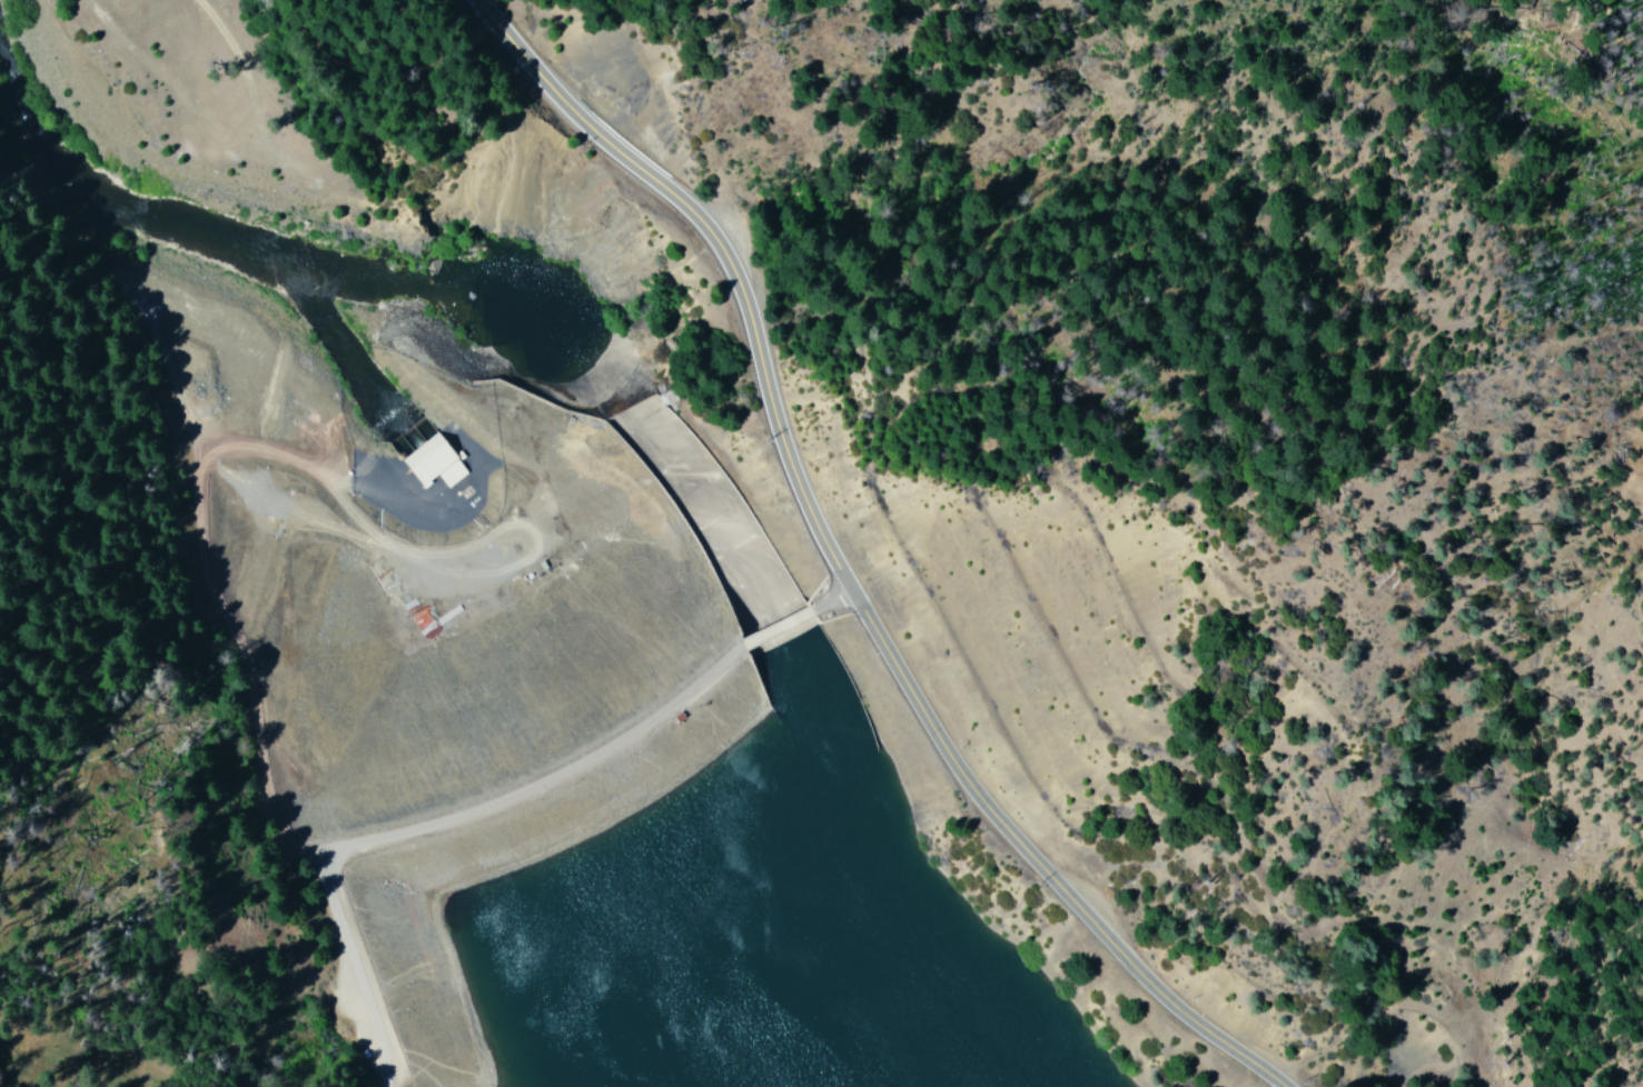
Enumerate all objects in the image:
river: (14, 56)
river: (225, 228)
river: (481, 296)
river: (522, 300)
river: (567, 315)
river: (603, 333)
building: (436, 462)
river: (705, 468)
road: (196, 509)
road: (843, 574)
road: (845, 599)
river: (792, 631)
road: (779, 638)
dam: (508, 682)
road: (526, 786)
river: (822, 787)
road: (350, 977)
river: (918, 996)

